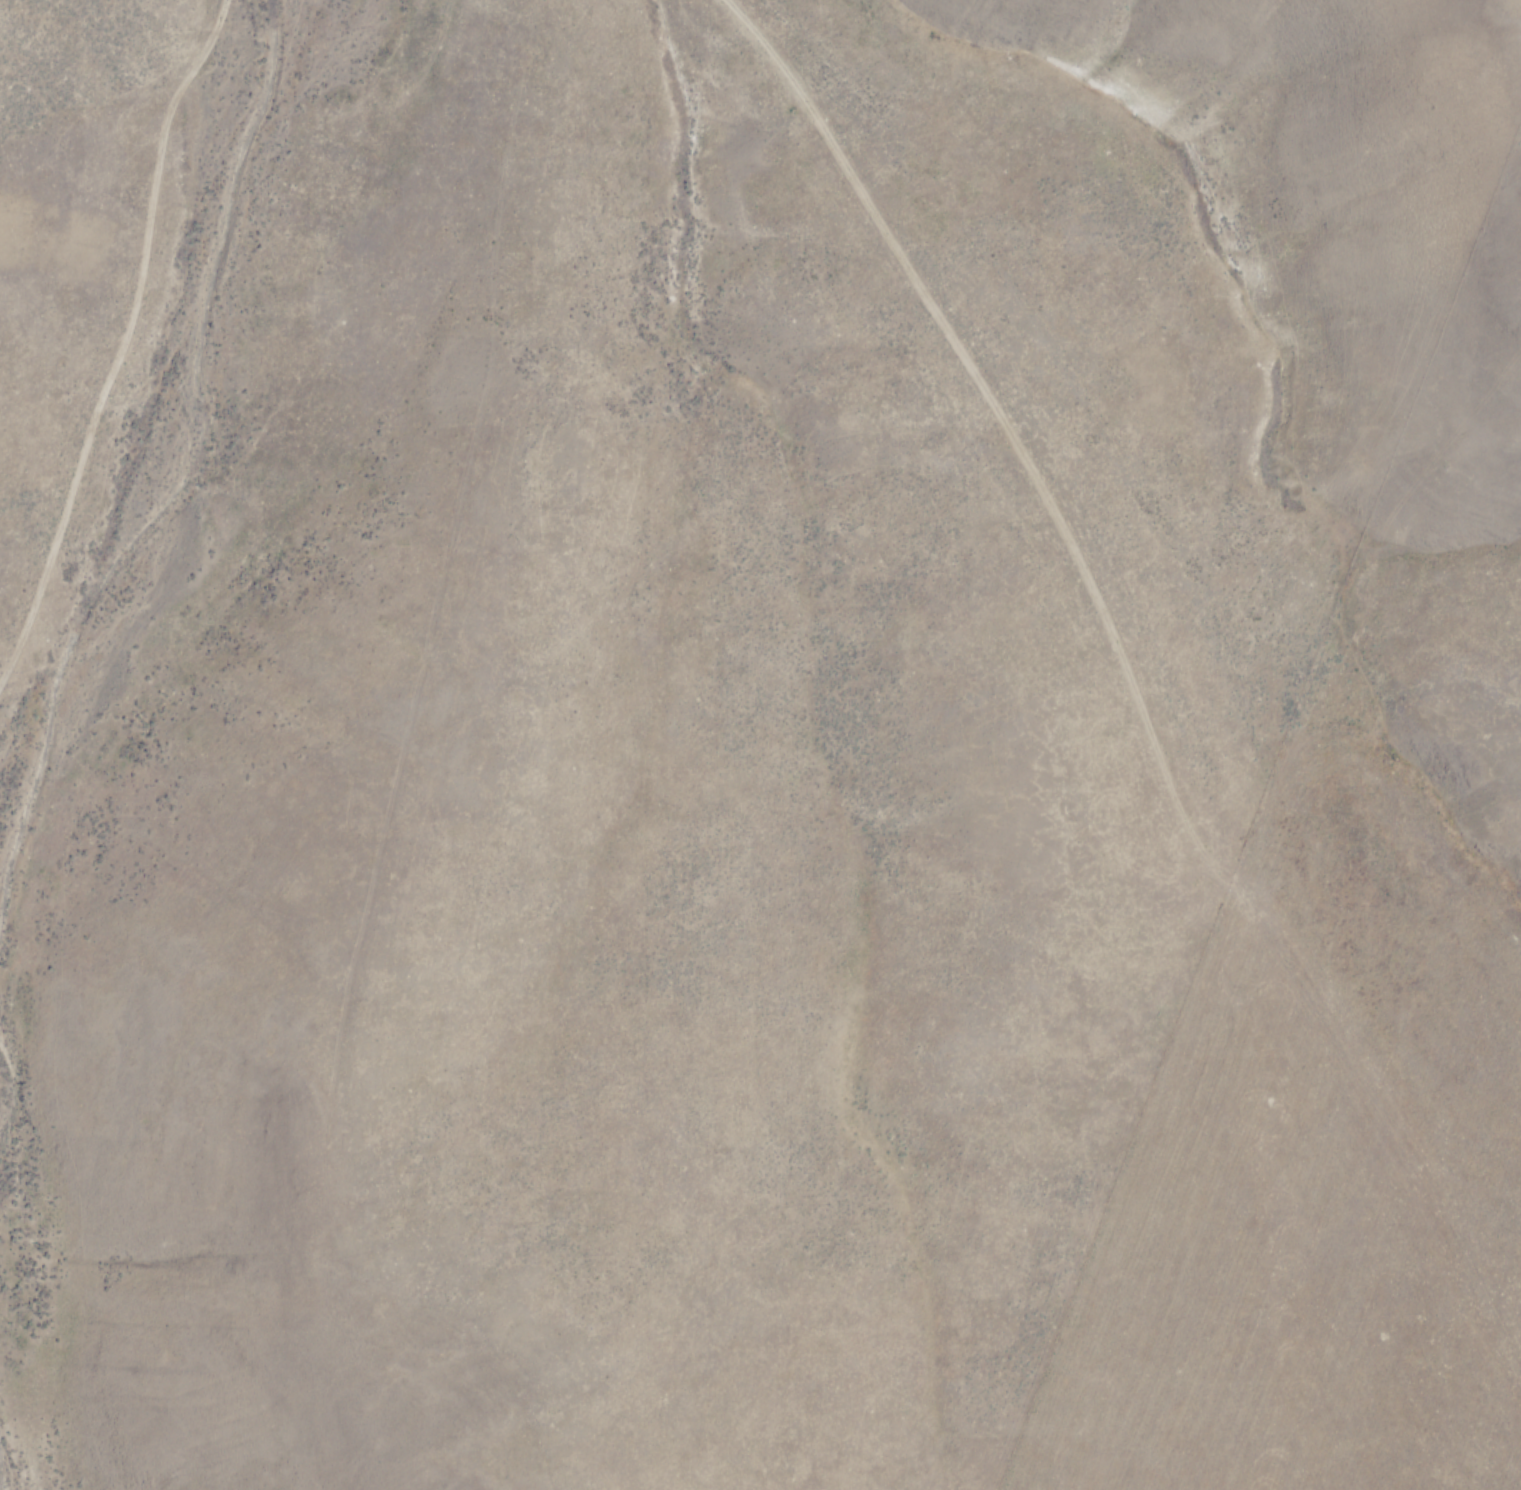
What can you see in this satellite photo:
road: (1203, 681)

